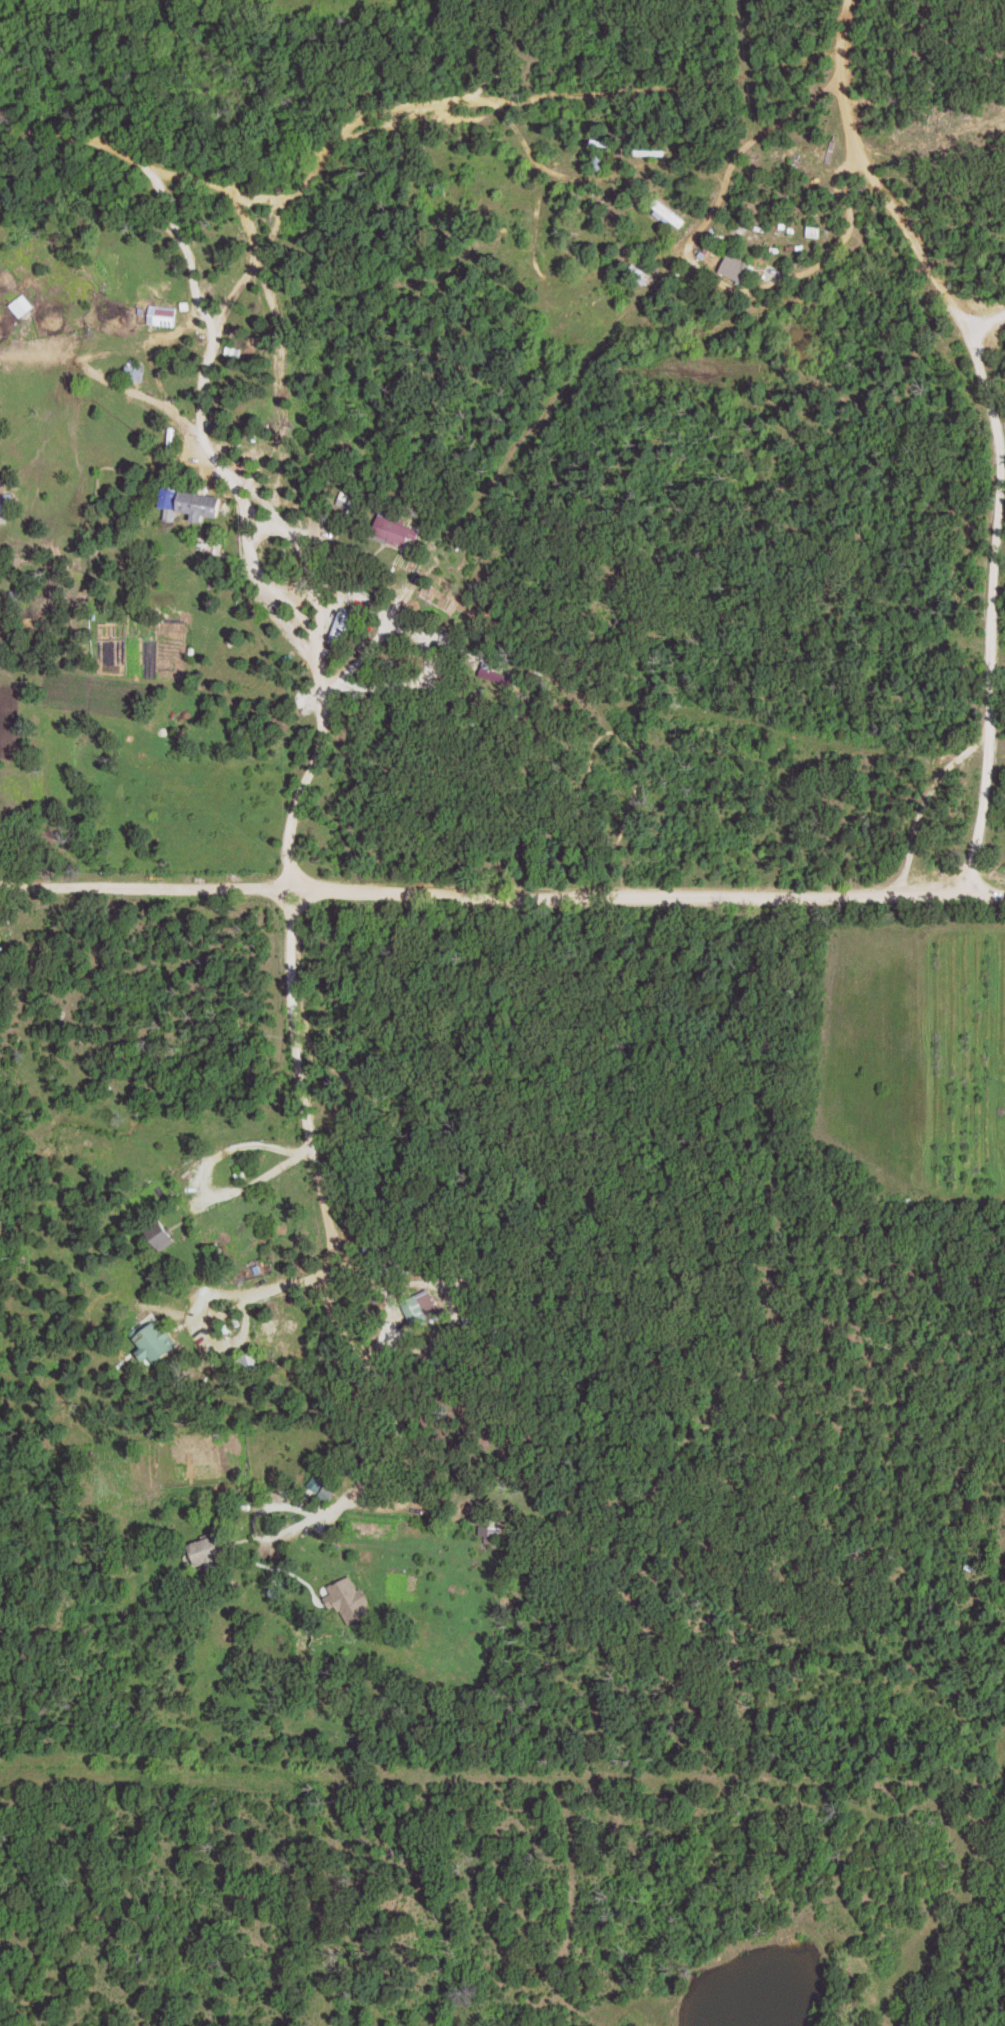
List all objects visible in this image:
road: (348, 130)
building: (827, 135)
building: (598, 163)
road: (866, 173)
building: (669, 212)
building: (736, 271)
building: (20, 306)
building: (162, 314)
road: (986, 318)
building: (135, 373)
road: (537, 446)
building: (6, 505)
building: (192, 505)
building: (394, 531)
road: (339, 538)
building: (341, 626)
road: (987, 627)
road: (500, 892)
building: (419, 1308)
building: (153, 1341)
building: (251, 1361)
building: (206, 1548)

